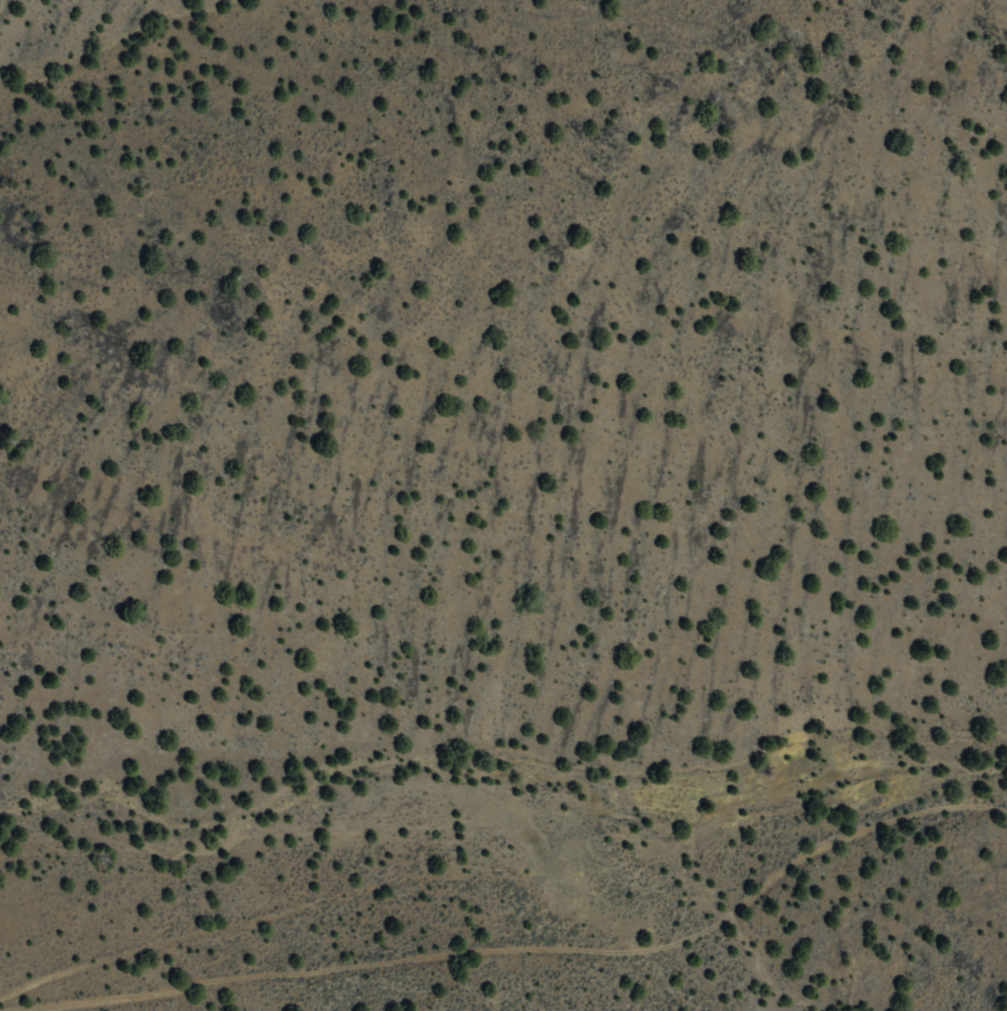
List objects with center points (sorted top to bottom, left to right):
road: (532, 950)

